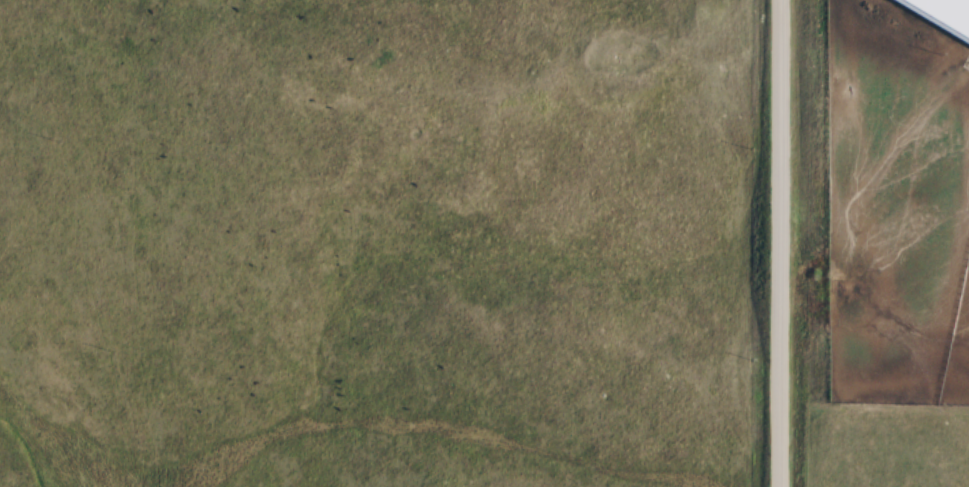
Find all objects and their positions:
road: (780, 243)

